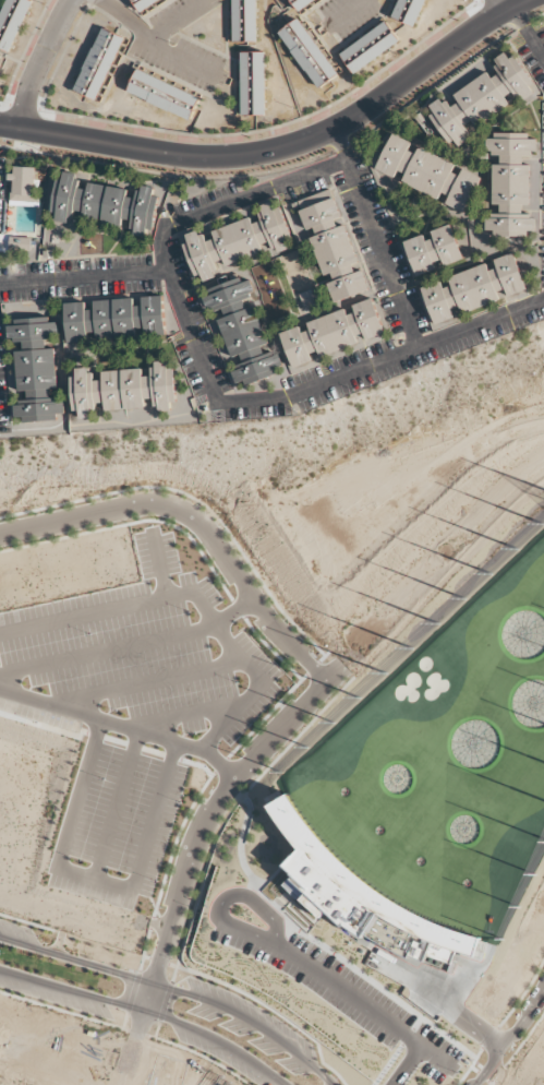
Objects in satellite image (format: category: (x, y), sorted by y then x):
building: (144, 4)
building: (301, 4)
road: (499, 5)
building: (409, 11)
road: (344, 14)
building: (244, 21)
building: (12, 22)
road: (177, 25)
road: (518, 26)
road: (529, 34)
road: (156, 47)
building: (370, 47)
building: (309, 52)
road: (37, 60)
building: (99, 64)
building: (253, 83)
road: (431, 86)
building: (164, 95)
building: (483, 99)
road: (341, 147)
road: (281, 148)
building: (428, 174)
road: (168, 175)
building: (26, 184)
building: (513, 186)
building: (107, 205)
road: (375, 239)
building: (238, 241)
building: (20, 243)
building: (462, 245)
building: (434, 250)
building: (336, 251)
road: (83, 278)
building: (473, 289)
building: (117, 320)
building: (242, 332)
building: (334, 335)
building: (36, 369)
road: (209, 389)
building: (124, 390)
road: (196, 501)
road: (198, 522)
road: (134, 523)
road: (159, 565)
road: (195, 595)
road: (237, 609)
road: (126, 647)
road: (269, 649)
parking lot: (145, 651)
road: (323, 657)
road: (312, 668)
road: (150, 682)
parking lot: (40, 708)
road: (186, 715)
road: (266, 716)
road: (122, 726)
road: (219, 765)
road: (234, 792)
road: (117, 804)
road: (229, 812)
parking lot: (116, 825)
road: (198, 832)
road: (174, 842)
road: (94, 879)
building: (355, 893)
road: (292, 894)
road: (251, 899)
road: (289, 904)
road: (27, 923)
road: (150, 923)
road: (251, 933)
road: (323, 947)
road: (144, 951)
road: (146, 958)
road: (158, 961)
road: (174, 990)
road: (132, 992)
parking lot: (342, 992)
road: (522, 994)
road: (439, 1002)
road: (164, 1003)
road: (365, 1005)
road: (267, 1009)
road: (64, 1012)
road: (147, 1013)
road: (124, 1021)
road: (415, 1025)
road: (156, 1030)
road: (137, 1034)
road: (406, 1037)
road: (509, 1037)
road: (488, 1038)
road: (523, 1040)
road: (198, 1054)
road: (387, 1064)
road: (407, 1065)
road: (470, 1066)
road: (473, 1071)
road: (499, 1075)
road: (482, 1076)
road: (499, 1076)
road: (487, 1083)
road: (493, 1083)

